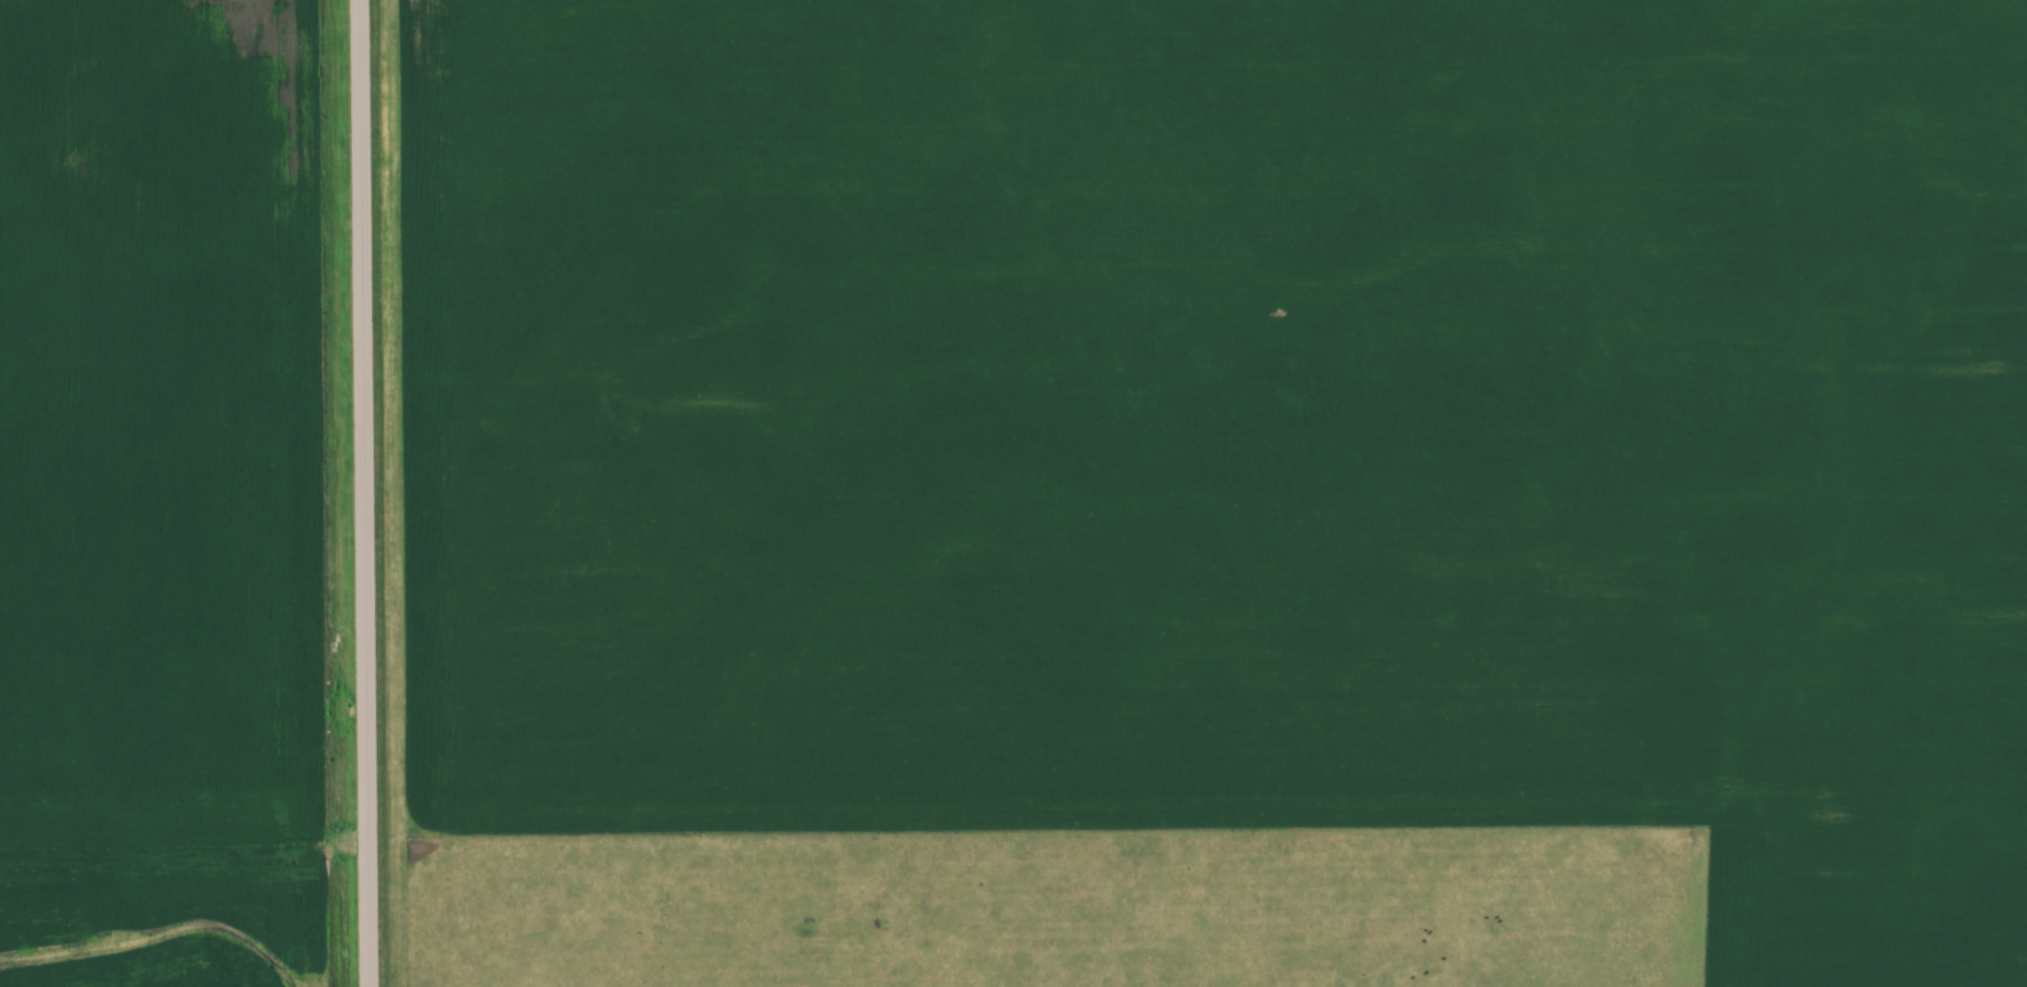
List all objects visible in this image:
road: (360, 493)

